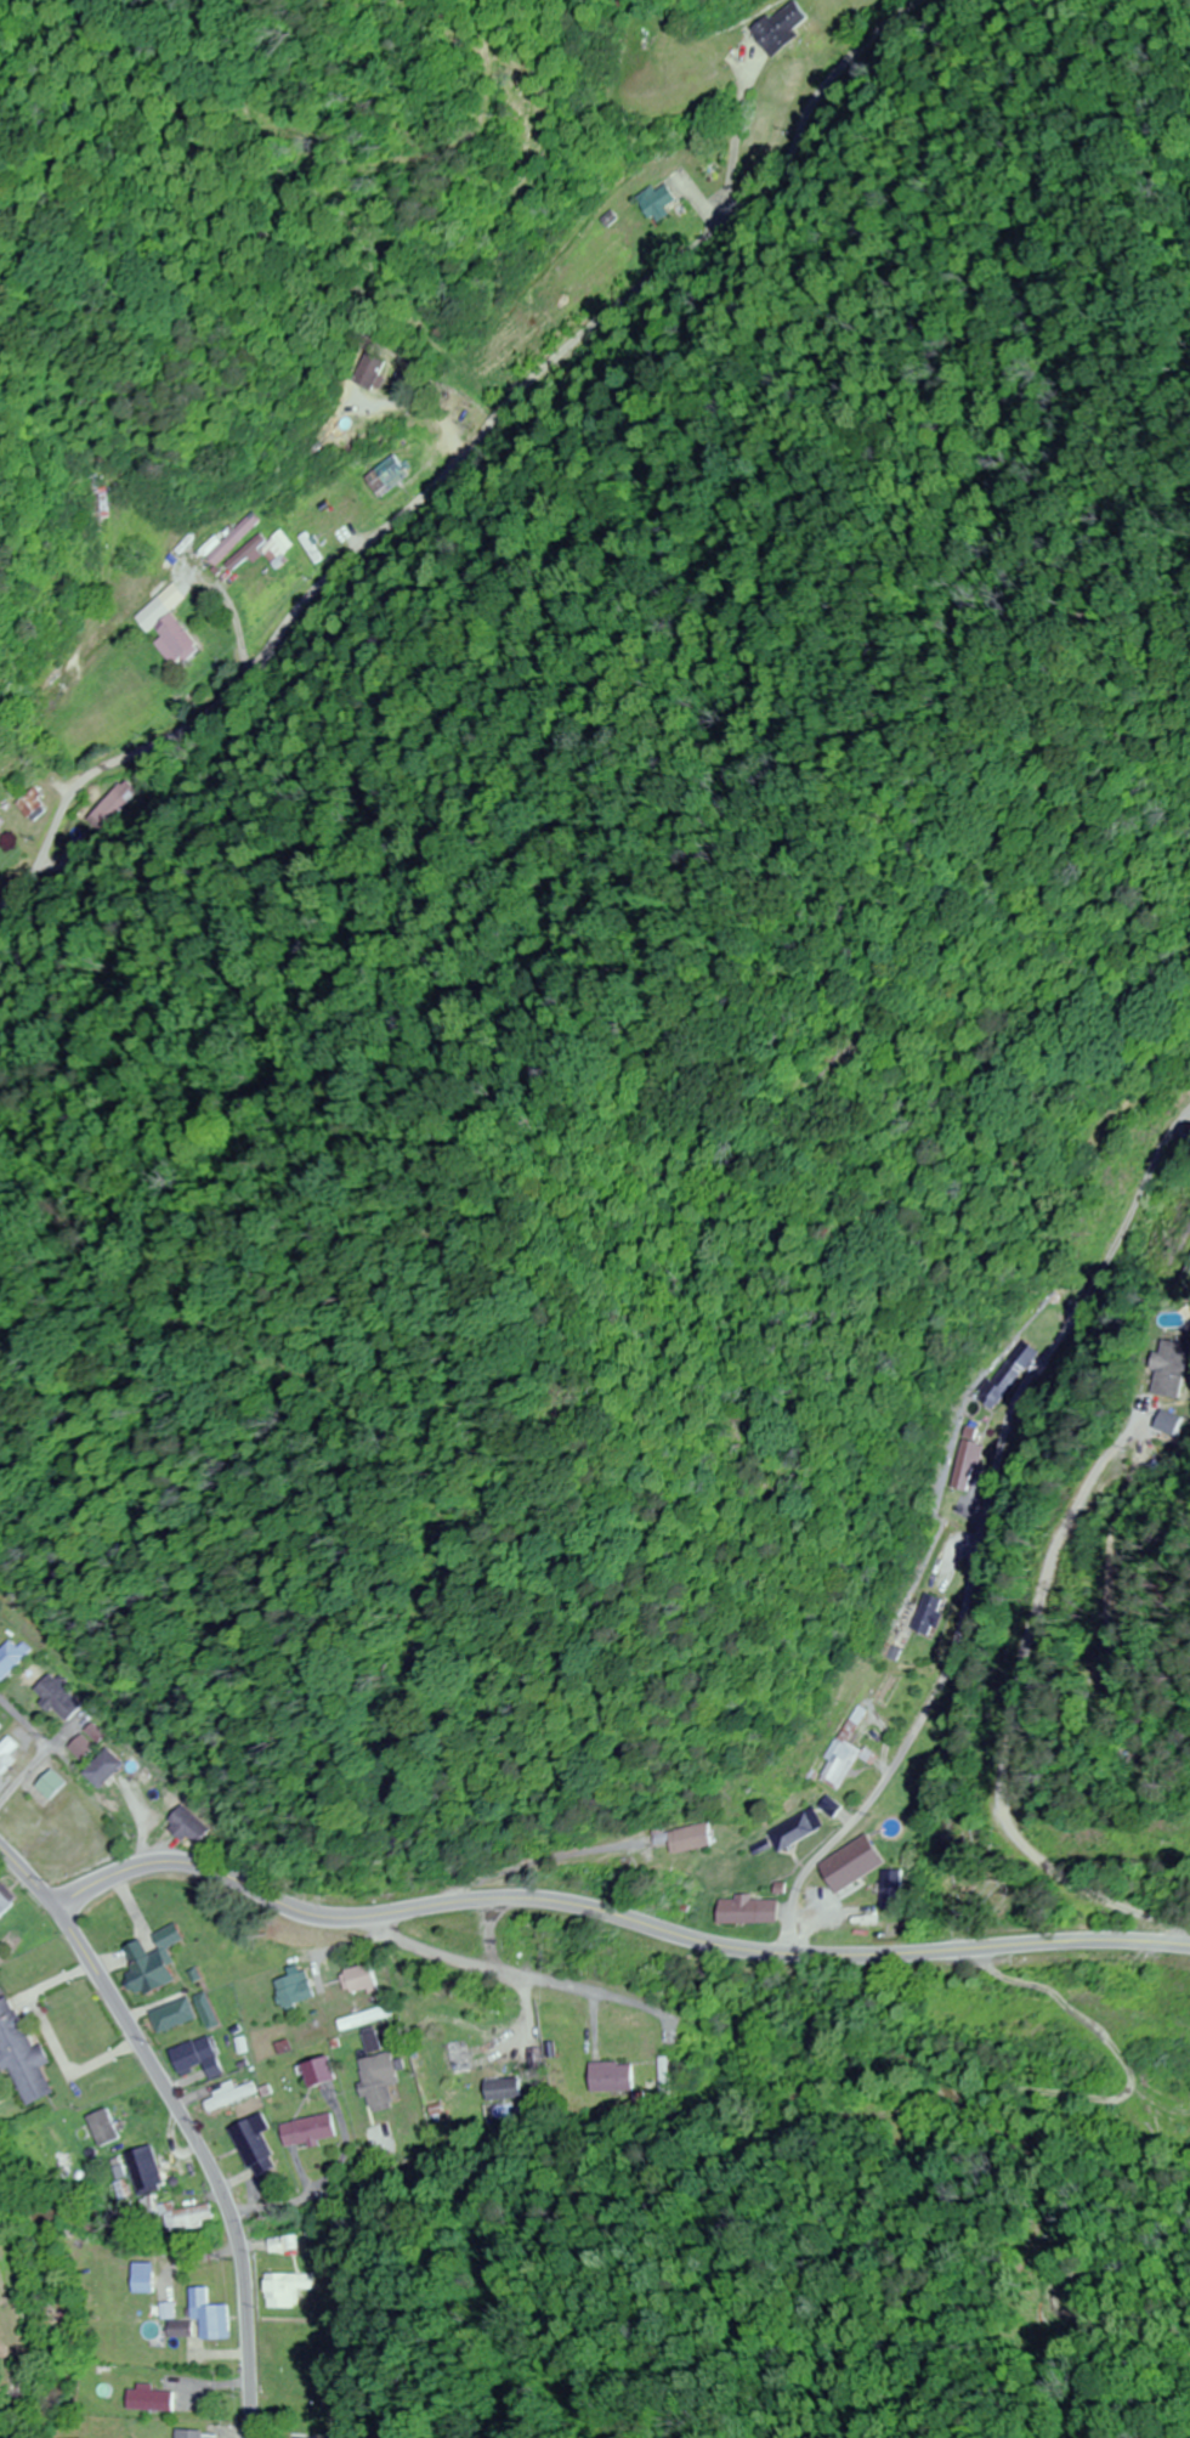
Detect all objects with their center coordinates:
building: (782, 28)
building: (654, 200)
building: (374, 370)
road: (457, 458)
building: (390, 475)
building: (321, 500)
building: (101, 503)
building: (236, 537)
building: (248, 554)
building: (178, 639)
building: (109, 804)
building: (0, 827)
building: (1173, 1370)
building: (992, 1382)
building: (960, 1465)
building: (918, 1616)
road: (950, 1646)
building: (17, 1659)
building: (67, 1697)
road: (27, 1720)
building: (1, 1725)
building: (89, 1747)
building: (832, 1754)
building: (12, 1755)
road: (41, 1761)
building: (113, 1767)
building: (59, 1784)
building: (896, 1799)
building: (821, 1806)
road: (146, 1820)
building: (189, 1821)
building: (788, 1829)
building: (679, 1839)
building: (844, 1866)
building: (889, 1891)
building: (8, 1904)
road: (577, 1906)
building: (744, 1912)
building: (163, 1962)
road: (529, 1976)
building: (368, 1980)
building: (304, 1990)
building: (215, 2010)
building: (182, 2015)
building: (373, 2016)
road: (602, 2025)
building: (381, 2042)
building: (25, 2053)
building: (206, 2057)
building: (469, 2057)
building: (334, 2071)
building: (620, 2077)
building: (386, 2083)
building: (508, 2091)
building: (237, 2097)
building: (112, 2127)
building: (319, 2129)
building: (263, 2145)
road: (205, 2150)
building: (152, 2170)
building: (192, 2216)
building: (151, 2278)
building: (291, 2289)
building: (216, 2314)
building: (186, 2327)
building: (155, 2399)
building: (200, 2433)
building: (308, 2437)

